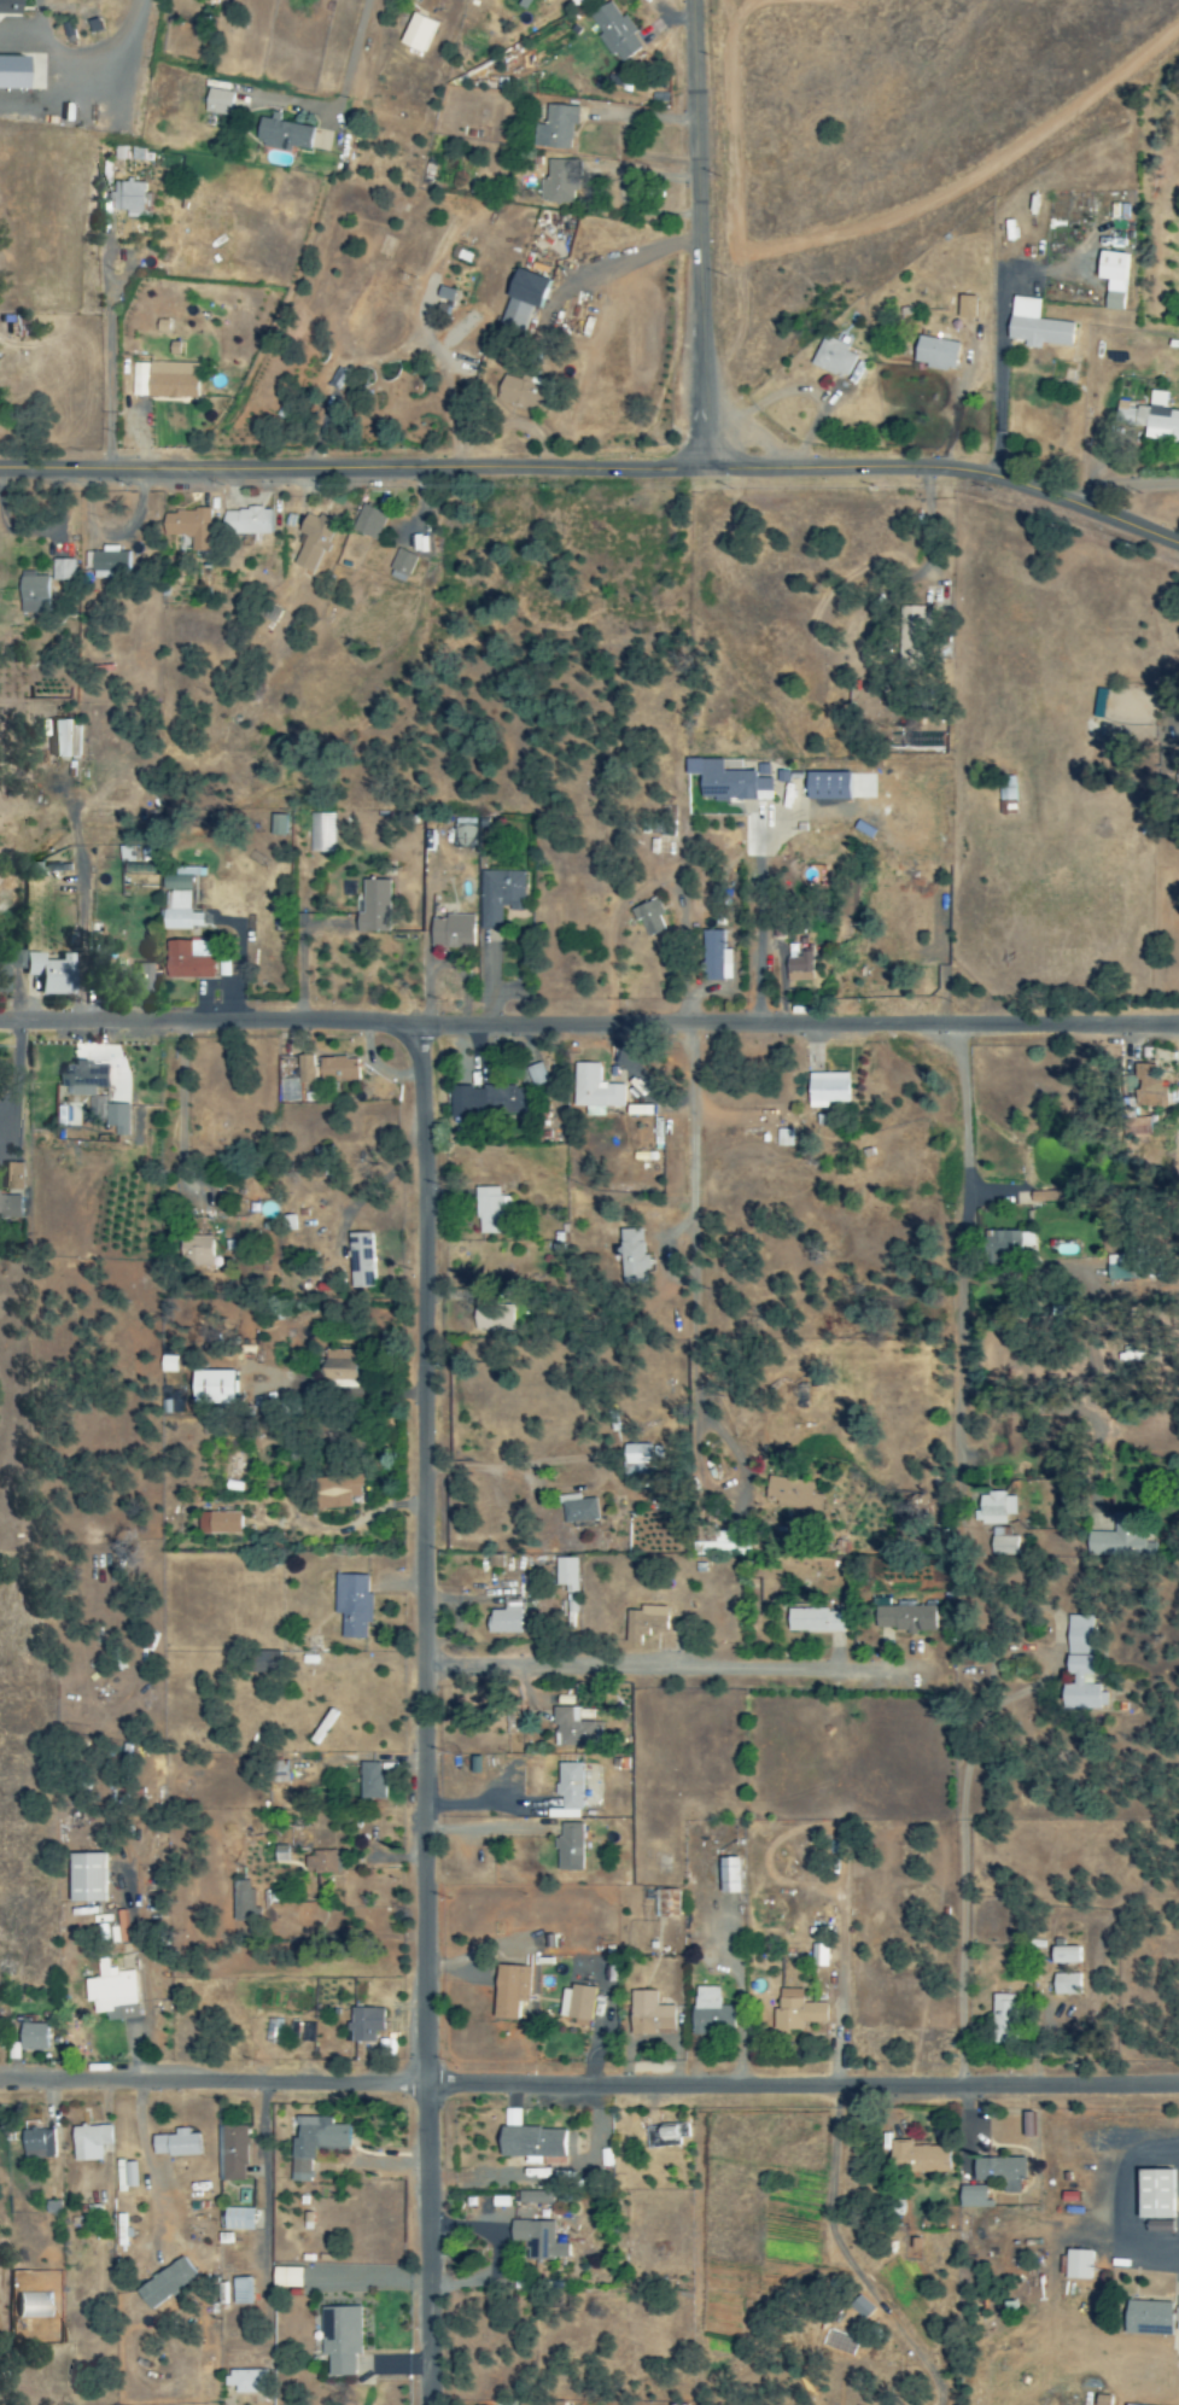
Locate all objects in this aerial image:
building: (7, 7)
building: (614, 33)
building: (416, 35)
road: (86, 56)
road: (349, 63)
building: (11, 74)
building: (216, 103)
building: (555, 129)
building: (281, 135)
building: (559, 183)
building: (128, 200)
road: (699, 235)
building: (1111, 280)
building: (529, 299)
building: (965, 308)
building: (1034, 326)
road: (107, 345)
building: (942, 354)
building: (837, 357)
building: (168, 380)
building: (529, 392)
building: (1150, 416)
road: (595, 471)
road: (1125, 485)
building: (252, 521)
building: (372, 523)
building: (194, 527)
road: (928, 535)
building: (316, 542)
building: (110, 561)
building: (407, 562)
building: (66, 570)
building: (39, 594)
building: (66, 740)
building: (753, 769)
building: (733, 783)
building: (835, 787)
building: (1005, 796)
building: (279, 825)
building: (322, 833)
building: (59, 863)
building: (186, 881)
building: (502, 897)
building: (378, 909)
building: (186, 912)
building: (654, 917)
road: (755, 928)
building: (454, 932)
building: (719, 957)
building: (194, 961)
building: (14, 963)
building: (804, 968)
building: (56, 974)
building: (140, 975)
road: (589, 1025)
building: (299, 1069)
building: (344, 1070)
building: (87, 1079)
building: (1145, 1088)
building: (834, 1090)
building: (599, 1091)
building: (488, 1102)
road: (180, 1111)
building: (121, 1119)
building: (17, 1177)
building: (12, 1209)
building: (492, 1209)
road: (963, 1242)
road: (722, 1249)
building: (1003, 1249)
building: (205, 1253)
building: (637, 1255)
building: (363, 1261)
building: (496, 1313)
building: (171, 1365)
building: (345, 1370)
building: (221, 1388)
building: (642, 1460)
building: (344, 1493)
building: (792, 1494)
building: (580, 1510)
building: (998, 1510)
building: (223, 1524)
building: (1121, 1540)
building: (734, 1543)
building: (1005, 1547)
building: (571, 1575)
building: (356, 1605)
building: (571, 1610)
building: (907, 1619)
building: (821, 1622)
building: (650, 1623)
building: (1078, 1633)
road: (659, 1654)
building: (269, 1663)
building: (1080, 1687)
road: (426, 1714)
building: (574, 1729)
building: (285, 1773)
building: (374, 1781)
building: (573, 1787)
building: (573, 1847)
building: (325, 1863)
road: (957, 1863)
building: (736, 1876)
building: (94, 1879)
building: (247, 1902)
building: (671, 1904)
building: (822, 1957)
road: (835, 1985)
building: (1064, 1985)
building: (113, 1989)
building: (513, 1994)
building: (580, 2006)
building: (712, 2013)
building: (800, 2013)
building: (653, 2015)
building: (1002, 2019)
building: (369, 2025)
building: (274, 2031)
building: (307, 2033)
building: (37, 2037)
road: (589, 2086)
building: (1026, 2124)
building: (670, 2137)
building: (94, 2143)
building: (538, 2143)
building: (43, 2144)
building: (181, 2146)
building: (319, 2146)
building: (235, 2153)
building: (917, 2159)
building: (999, 2172)
building: (1154, 2194)
building: (970, 2196)
building: (538, 2199)
building: (241, 2220)
building: (1158, 2226)
building: (543, 2241)
building: (1078, 2265)
building: (294, 2278)
building: (171, 2284)
building: (246, 2293)
building: (1177, 2314)
building: (1146, 2318)
building: (345, 2341)
building: (251, 2382)

